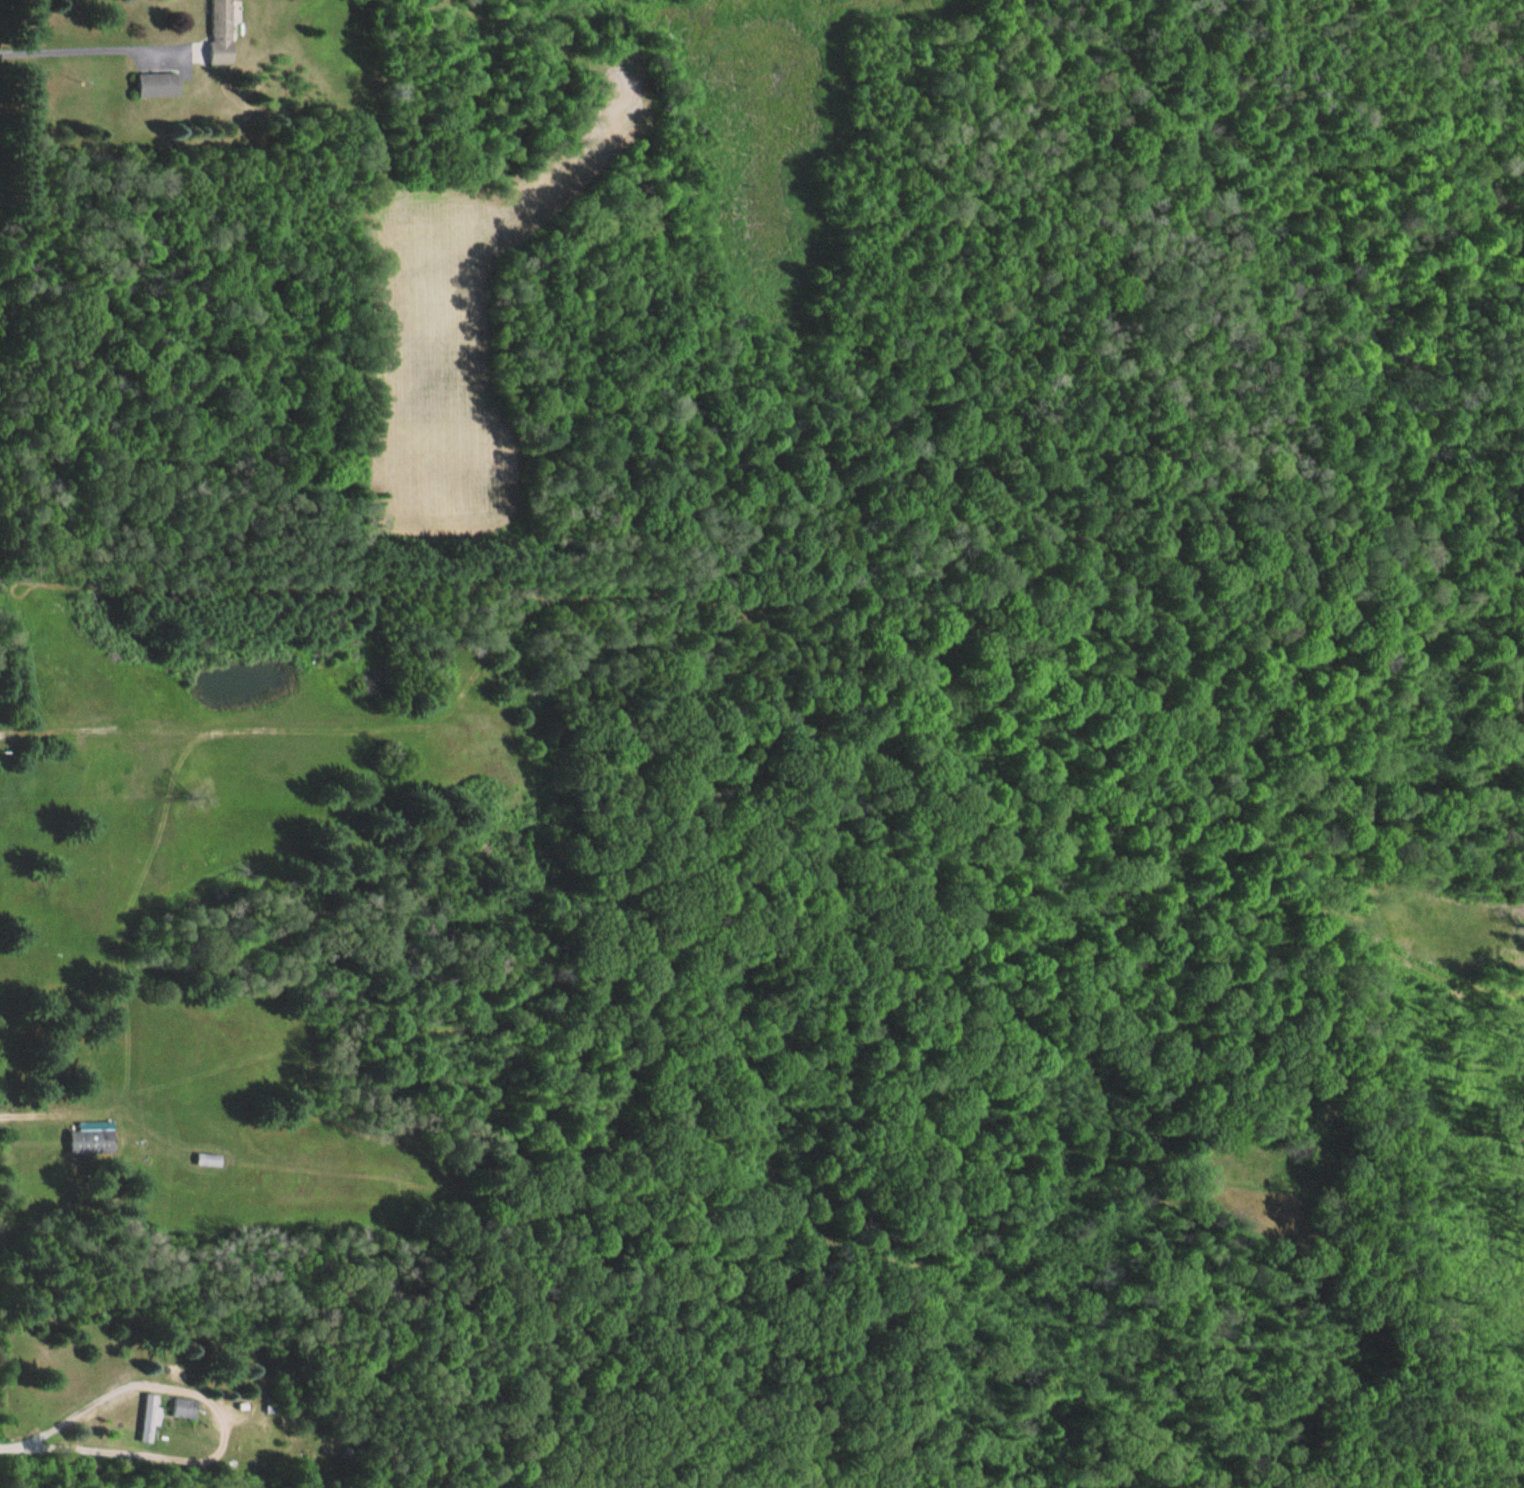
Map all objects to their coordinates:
building: (216, 32)
building: (154, 84)
road: (123, 1125)
building: (86, 1138)
building: (205, 1159)
building: (183, 1408)
building: (147, 1418)

